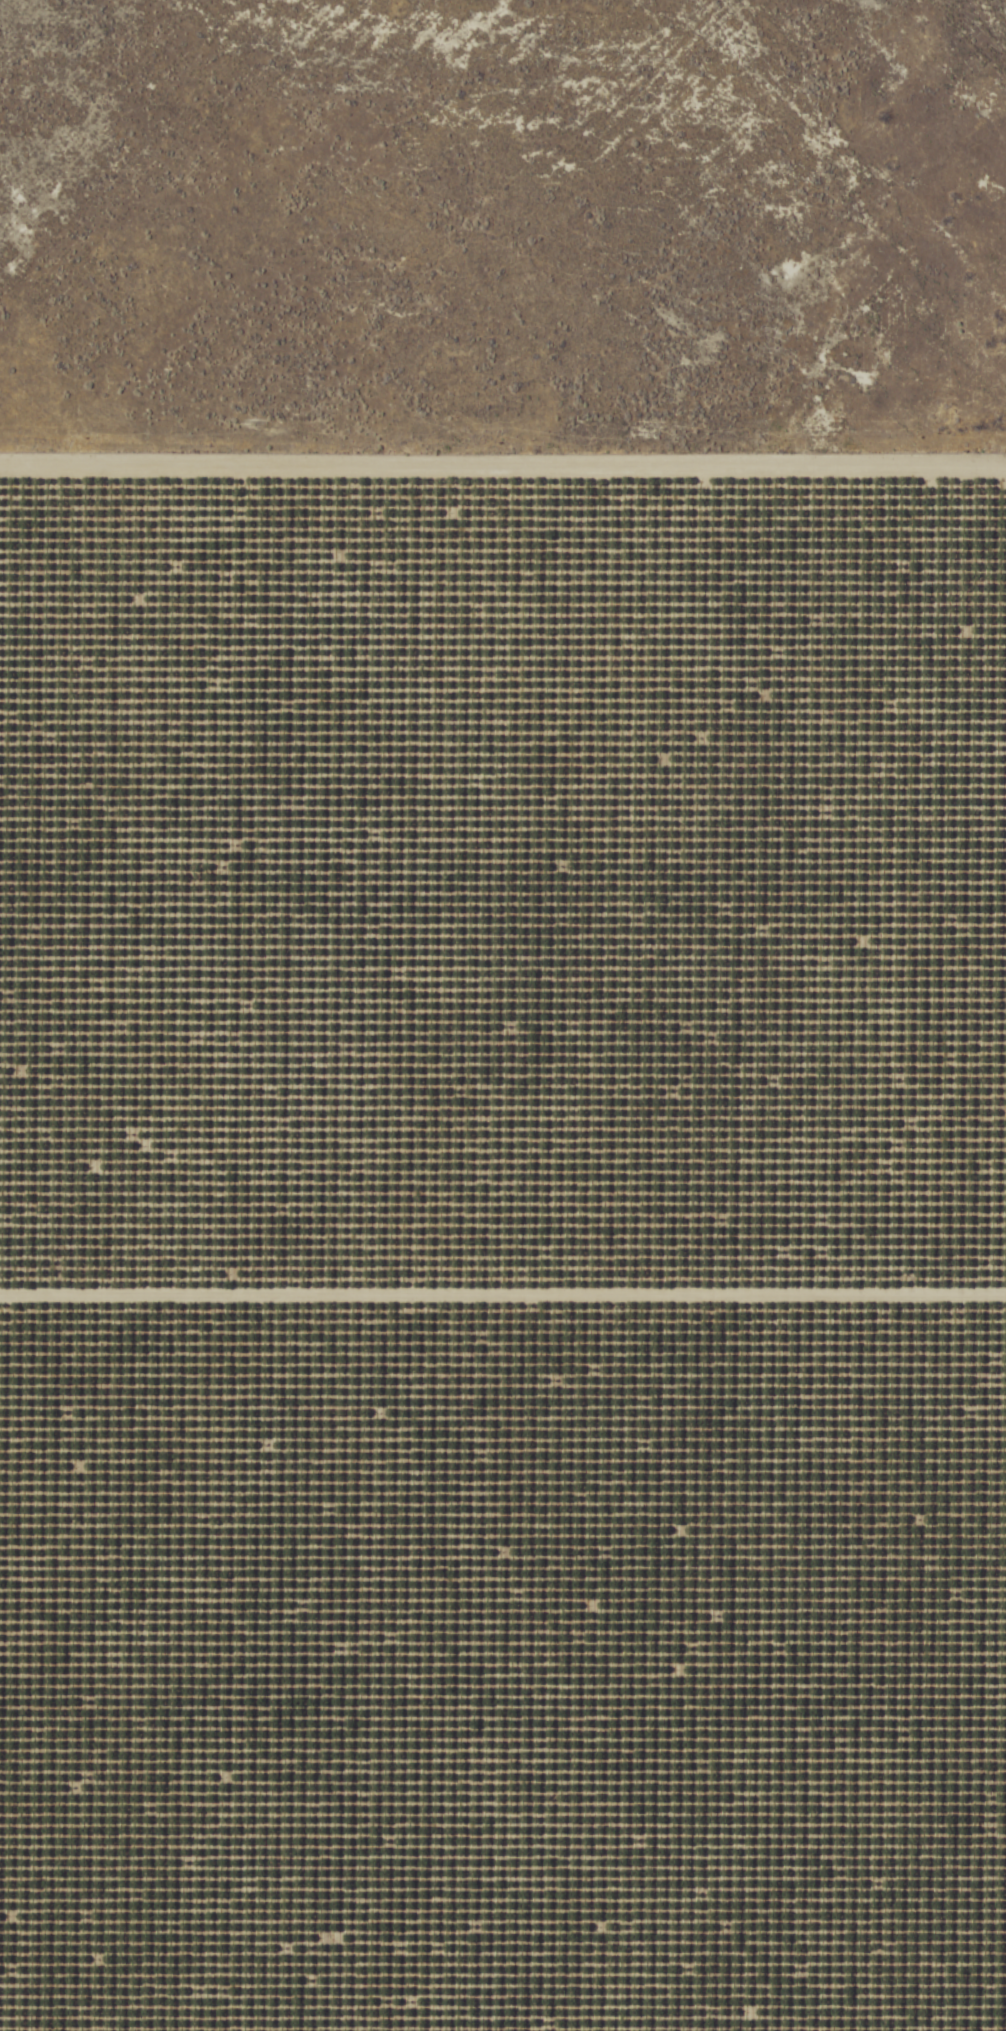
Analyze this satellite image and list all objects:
road: (503, 454)
road: (503, 1259)

